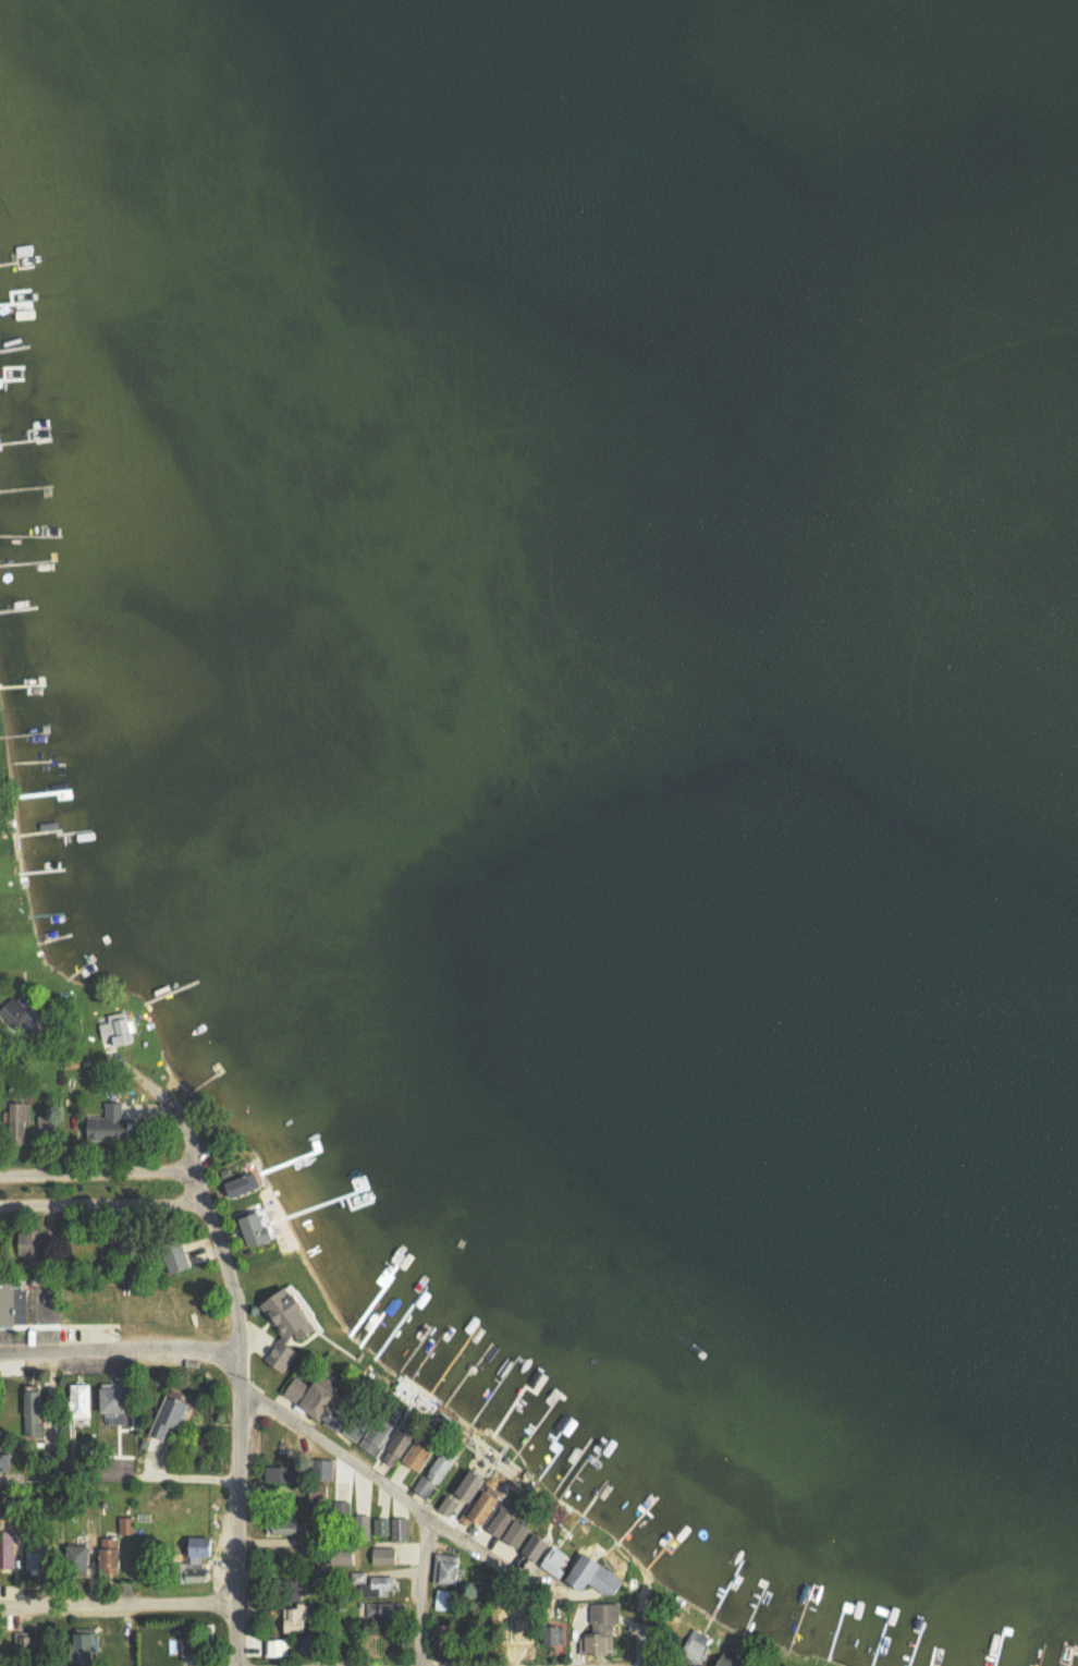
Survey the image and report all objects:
building: (19, 1014)
building: (120, 1032)
road: (174, 1115)
building: (22, 1120)
building: (113, 1123)
building: (46, 1124)
road: (110, 1178)
building: (246, 1184)
road: (101, 1211)
building: (261, 1229)
building: (32, 1247)
building: (181, 1261)
building: (9, 1303)
building: (290, 1325)
road: (125, 1355)
building: (311, 1396)
building: (83, 1399)
building: (118, 1404)
building: (35, 1413)
building: (171, 1414)
building: (348, 1421)
road: (240, 1434)
building: (380, 1435)
building: (402, 1445)
building: (424, 1454)
building: (7, 1461)
building: (444, 1468)
building: (284, 1475)
building: (342, 1482)
building: (425, 1485)
building: (476, 1485)
road: (379, 1488)
building: (450, 1505)
building: (486, 1506)
building: (127, 1525)
building: (382, 1525)
building: (514, 1525)
building: (283, 1529)
building: (401, 1529)
building: (539, 1545)
building: (200, 1552)
building: (77, 1553)
building: (8, 1554)
building: (112, 1554)
building: (385, 1555)
building: (42, 1559)
building: (559, 1561)
building: (446, 1568)
building: (599, 1576)
building: (381, 1586)
road: (422, 1593)
building: (445, 1600)
road: (117, 1607)
building: (387, 1608)
building: (301, 1619)
building: (602, 1629)
building: (443, 1635)
building: (315, 1644)
building: (700, 1645)
building: (192, 1646)
building: (89, 1649)
building: (279, 1649)
building: (734, 1657)

